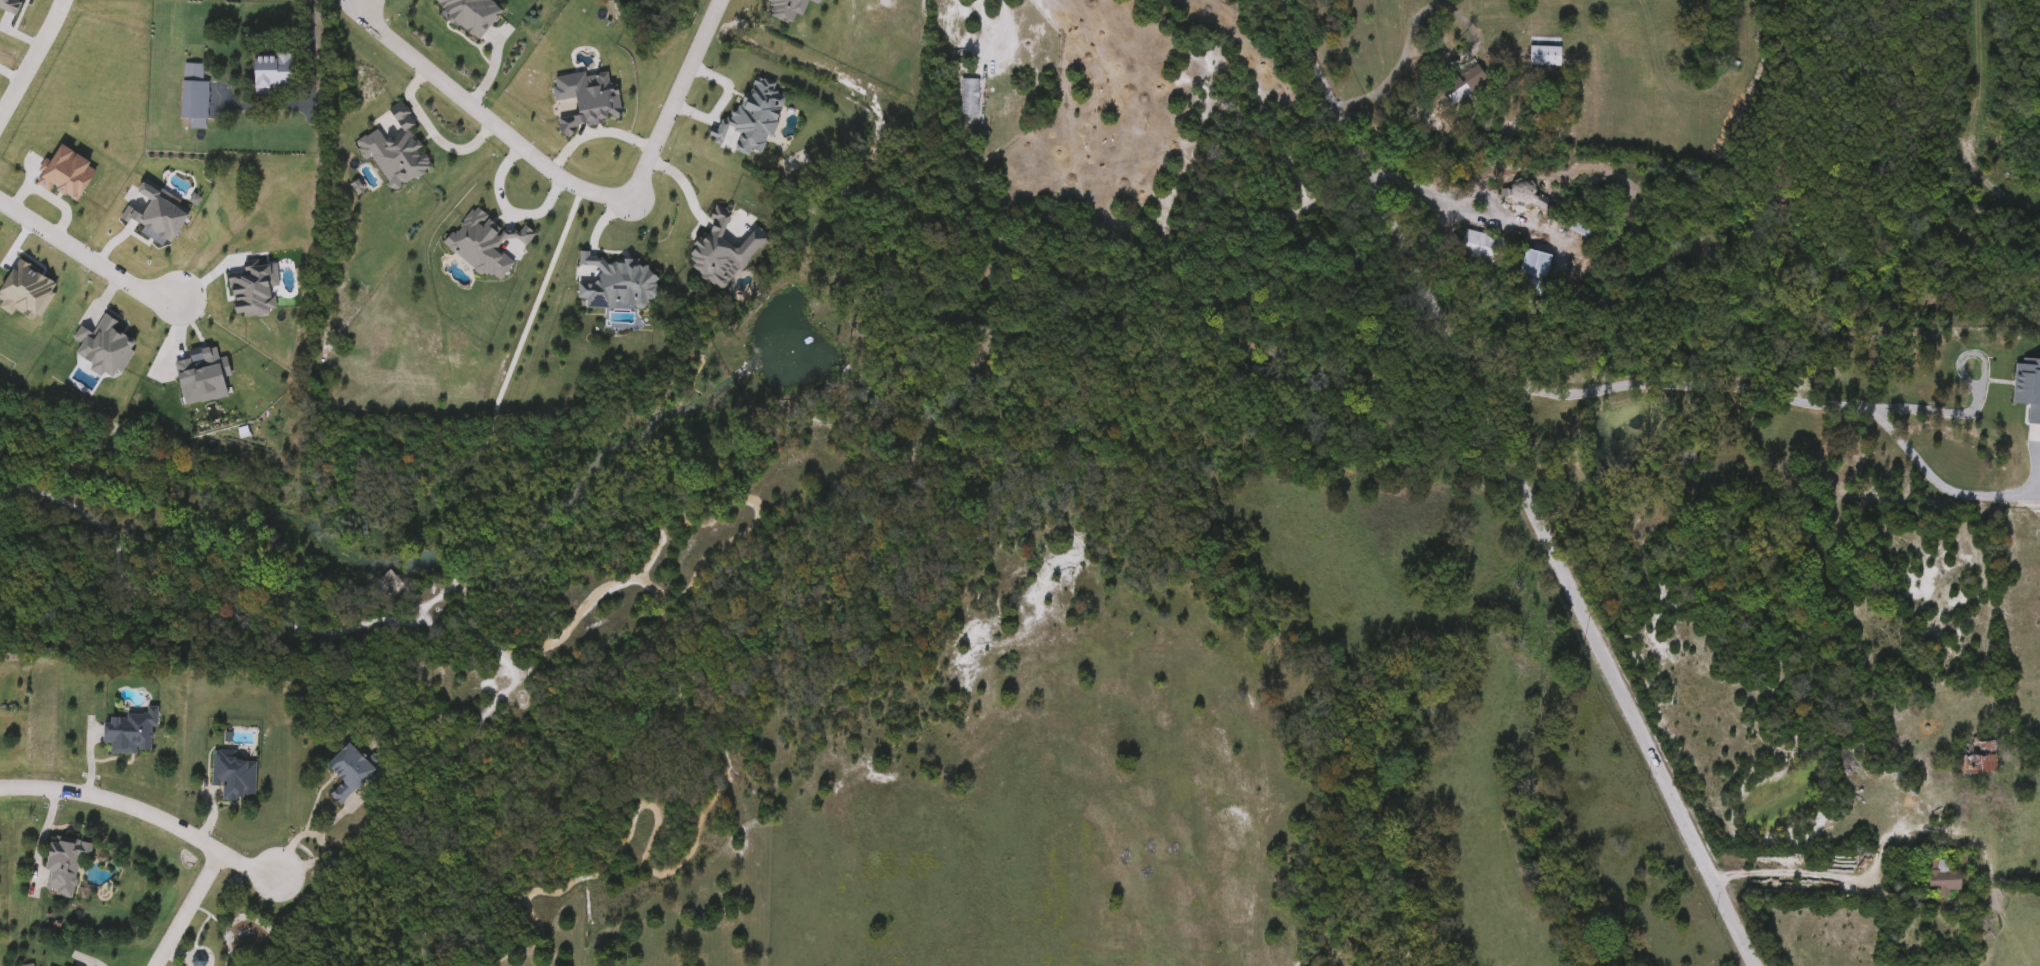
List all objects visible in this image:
road: (1000, 26)
road: (14, 31)
building: (1543, 56)
road: (33, 59)
building: (270, 71)
building: (1465, 83)
road: (307, 91)
building: (192, 95)
building: (968, 96)
road: (1381, 96)
road: (676, 97)
road: (483, 117)
road: (592, 125)
road: (432, 142)
building: (1525, 194)
road: (47, 201)
road: (1463, 207)
building: (1479, 248)
road: (88, 258)
building: (1531, 269)
road: (1787, 394)
road: (495, 400)
road: (1974, 402)
road: (1517, 483)
building: (128, 732)
building: (1976, 758)
building: (346, 772)
building: (231, 775)
road: (147, 816)
road: (324, 840)
road: (293, 842)
road: (42, 843)
building: (62, 864)
building: (1941, 877)
road: (1844, 879)
road: (187, 906)
building: (52, 964)

